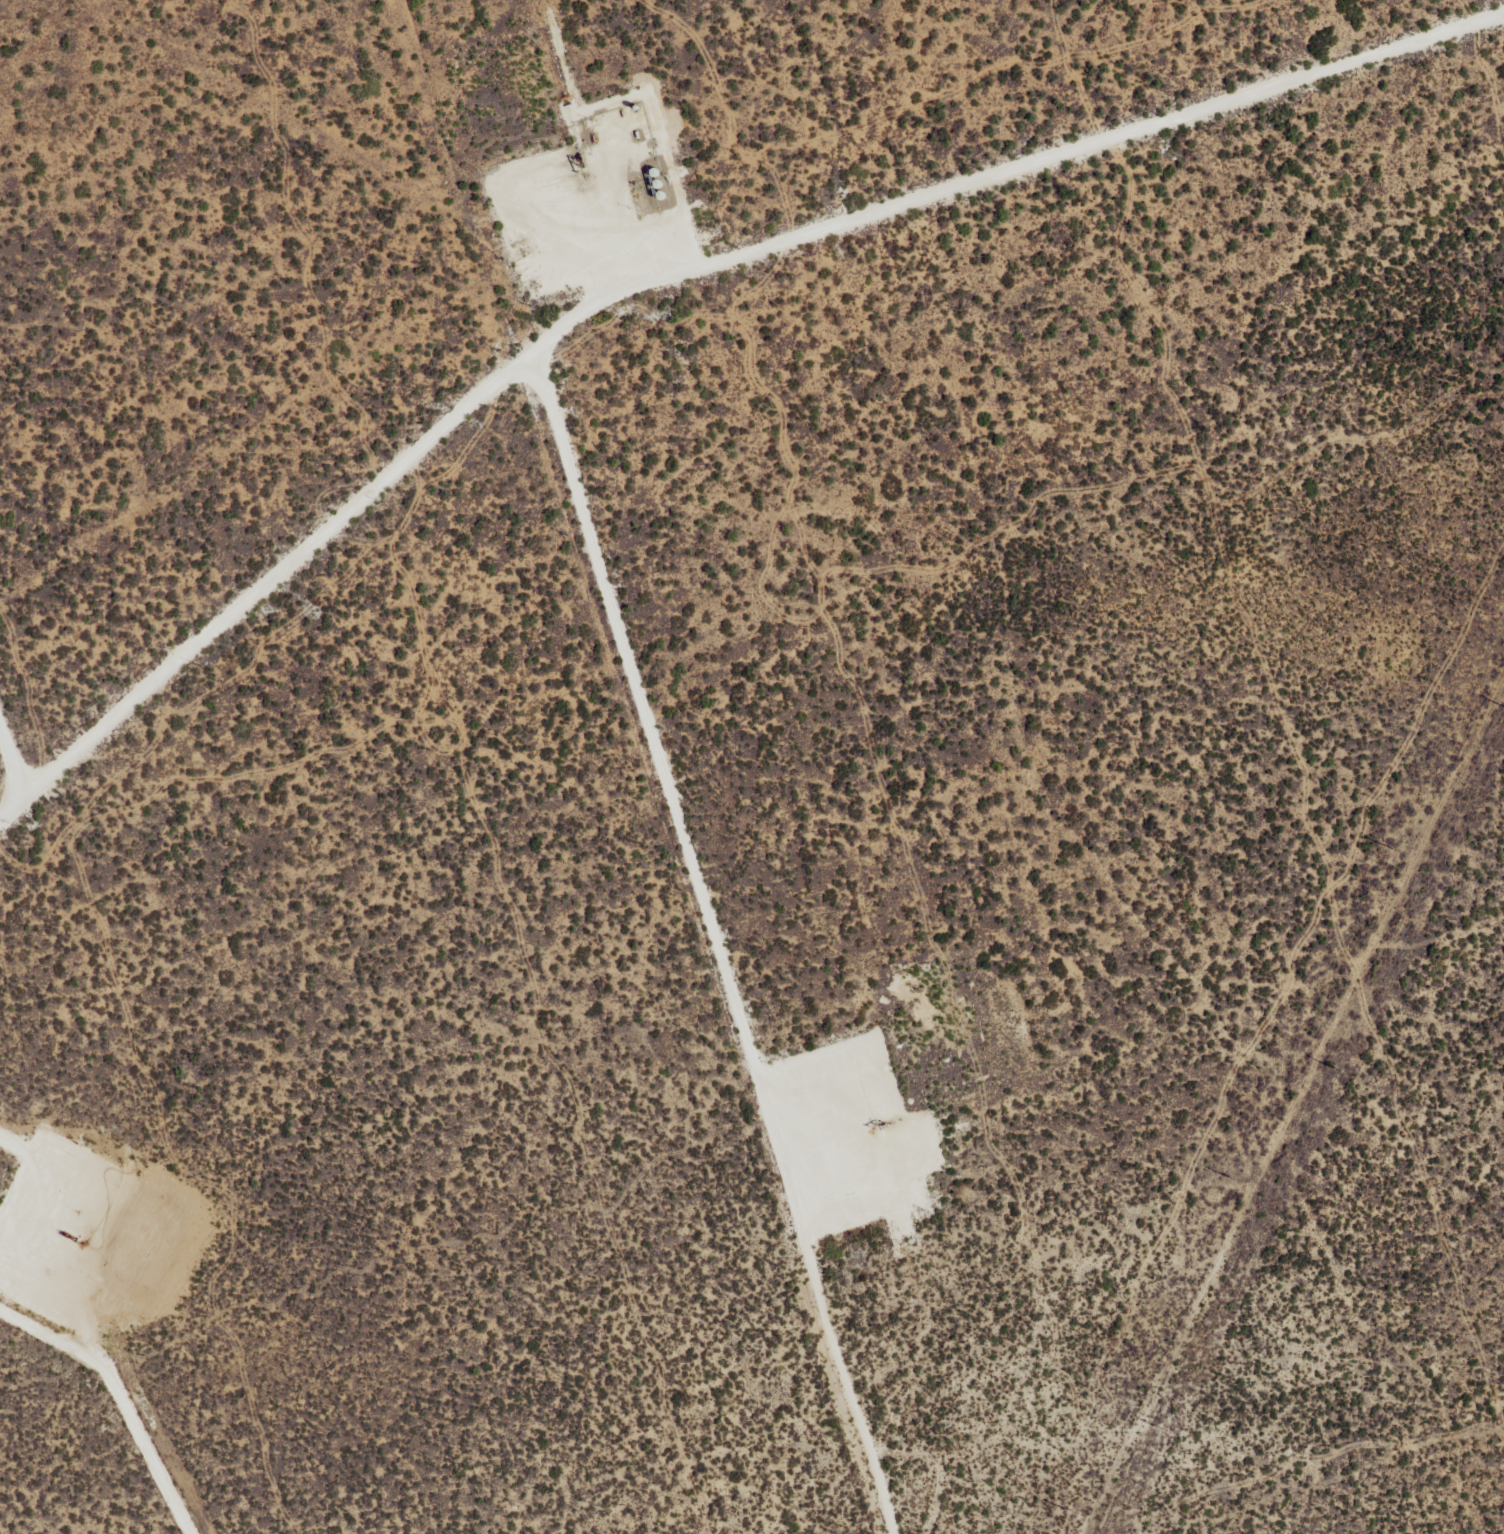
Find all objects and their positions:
road: (555, 470)
road: (267, 632)
road: (23, 727)
road: (1089, 800)
power tower: (1392, 850)
power tower: (1338, 1069)
power tower: (1234, 1179)
power tower: (1164, 1428)
power tower: (1073, 1512)

